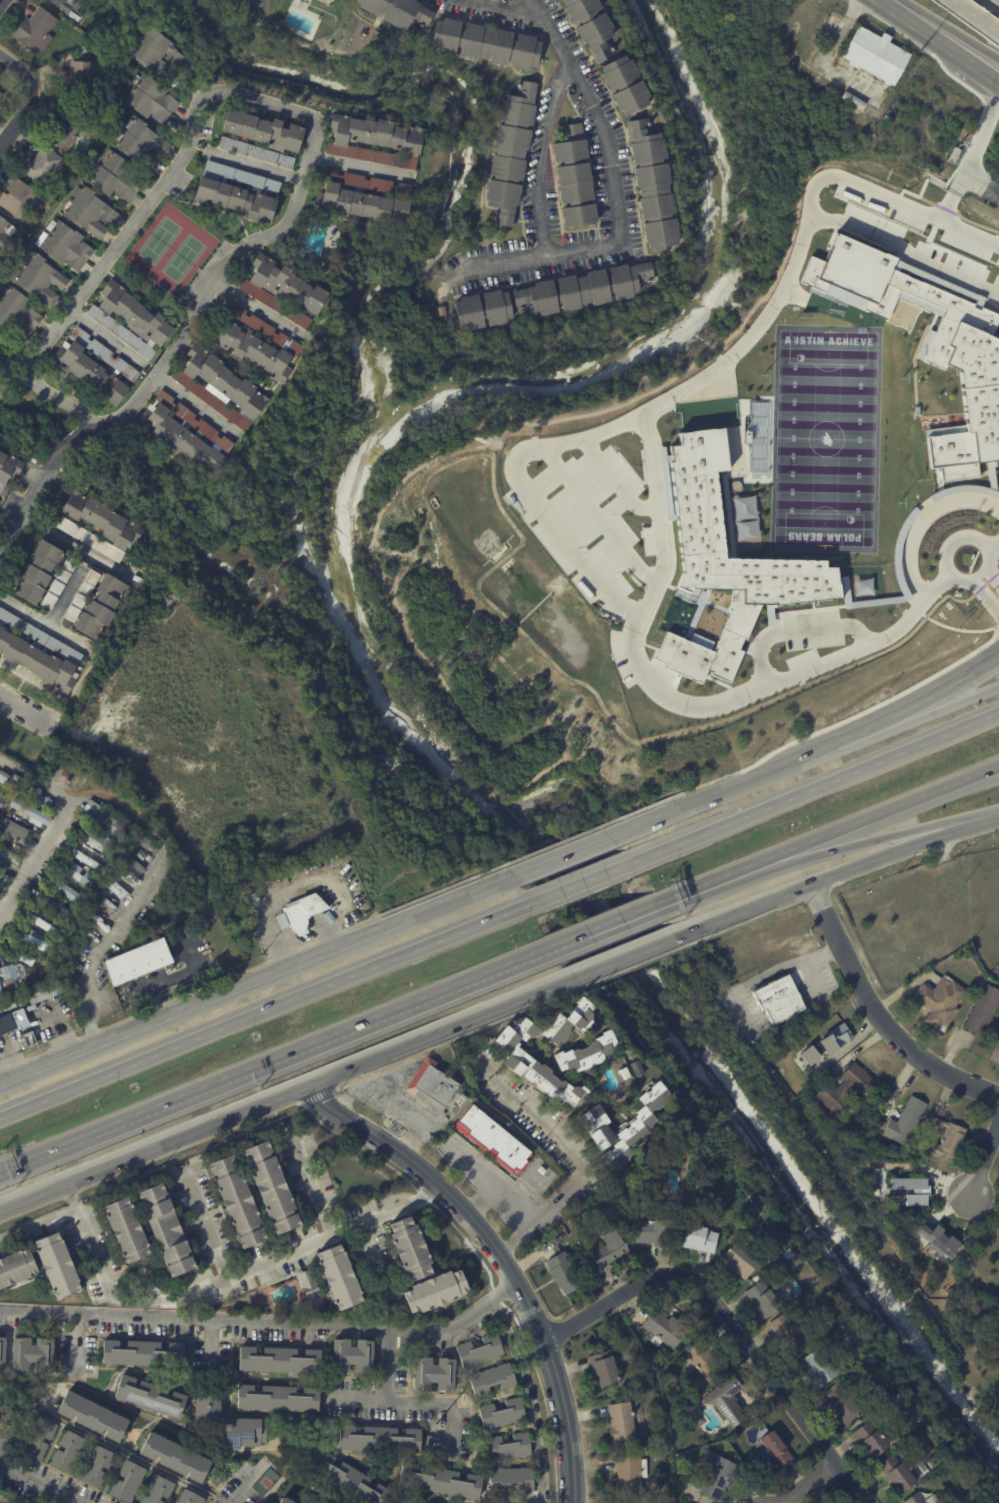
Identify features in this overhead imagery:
road: (2, 3)
road: (504, 5)
building: (71, 7)
building: (395, 12)
road: (973, 18)
building: (589, 27)
road: (919, 29)
road: (951, 29)
building: (36, 30)
building: (484, 45)
road: (830, 50)
building: (152, 51)
building: (875, 56)
road: (980, 71)
road: (19, 74)
building: (81, 81)
building: (622, 86)
building: (833, 88)
building: (0, 91)
building: (0, 95)
building: (150, 99)
building: (853, 100)
road: (272, 103)
building: (873, 112)
road: (15, 121)
building: (68, 128)
building: (263, 132)
building: (374, 143)
building: (140, 144)
road: (200, 147)
building: (255, 153)
building: (509, 153)
road: (973, 154)
building: (954, 155)
road: (544, 158)
building: (41, 165)
road: (257, 165)
road: (360, 165)
building: (115, 179)
building: (573, 179)
building: (651, 186)
building: (238, 192)
road: (615, 195)
building: (17, 198)
building: (366, 199)
building: (89, 212)
road: (970, 229)
building: (4, 234)
park: (160, 240)
building: (63, 245)
road: (906, 249)
park: (183, 258)
road: (107, 263)
building: (40, 281)
building: (282, 290)
building: (552, 297)
road: (263, 309)
building: (17, 313)
building: (129, 320)
road: (179, 341)
road: (116, 342)
building: (259, 346)
building: (8, 350)
building: (2, 366)
building: (96, 368)
building: (219, 386)
road: (198, 404)
building: (917, 410)
building: (185, 435)
building: (759, 437)
park: (826, 438)
road: (520, 457)
building: (8, 468)
road: (599, 515)
road: (920, 523)
building: (97, 527)
road: (660, 528)
road: (79, 546)
road: (992, 548)
road: (954, 549)
road: (988, 557)
building: (724, 563)
road: (991, 568)
building: (43, 576)
road: (978, 576)
road: (995, 580)
road: (957, 584)
road: (66, 596)
road: (983, 596)
building: (94, 604)
road: (45, 621)
road: (797, 631)
building: (38, 652)
building: (494, 664)
road: (25, 713)
road: (905, 723)
road: (814, 756)
road: (34, 781)
building: (8, 782)
road: (817, 787)
building: (30, 791)
building: (0, 795)
building: (44, 803)
building: (2, 804)
building: (90, 807)
building: (31, 812)
building: (7, 814)
road: (993, 817)
road: (872, 818)
building: (112, 827)
building: (11, 830)
building: (130, 831)
building: (97, 842)
road: (865, 843)
building: (142, 854)
building: (8, 856)
road: (36, 856)
road: (565, 857)
building: (89, 860)
building: (75, 873)
road: (836, 875)
building: (2, 877)
road: (297, 884)
road: (581, 885)
road: (707, 886)
building: (63, 887)
road: (136, 893)
building: (55, 908)
building: (303, 912)
building: (318, 921)
building: (41, 924)
road: (609, 924)
building: (35, 940)
building: (18, 954)
road: (630, 958)
building: (136, 962)
building: (14, 978)
road: (255, 981)
building: (1, 992)
building: (41, 992)
building: (779, 999)
building: (941, 1002)
road: (263, 1013)
road: (878, 1016)
building: (13, 1021)
building: (983, 1021)
building: (569, 1023)
building: (837, 1039)
building: (26, 1041)
building: (589, 1054)
building: (810, 1055)
building: (996, 1055)
road: (274, 1057)
building: (535, 1064)
building: (636, 1069)
building: (625, 1074)
building: (480, 1078)
building: (434, 1084)
building: (845, 1088)
building: (527, 1093)
road: (285, 1096)
building: (460, 1100)
road: (395, 1101)
building: (518, 1118)
building: (905, 1121)
building: (599, 1127)
building: (639, 1127)
building: (947, 1138)
building: (494, 1141)
building: (583, 1147)
building: (558, 1156)
road: (985, 1159)
building: (532, 1169)
building: (541, 1171)
road: (582, 1175)
road: (310, 1179)
building: (906, 1182)
building: (547, 1183)
building: (271, 1186)
building: (698, 1187)
building: (689, 1197)
building: (915, 1198)
building: (238, 1201)
road: (205, 1219)
road: (39, 1225)
building: (125, 1230)
building: (165, 1230)
building: (654, 1230)
building: (699, 1238)
building: (936, 1240)
building: (409, 1246)
building: (608, 1248)
road: (501, 1258)
building: (737, 1260)
building: (56, 1266)
building: (15, 1268)
building: (563, 1272)
road: (226, 1277)
building: (338, 1277)
building: (309, 1289)
building: (435, 1291)
building: (763, 1299)
road: (729, 1322)
road: (265, 1324)
building: (665, 1328)
building: (792, 1332)
building: (481, 1350)
building: (2, 1351)
building: (142, 1353)
building: (32, 1354)
building: (352, 1355)
building: (277, 1360)
building: (705, 1361)
road: (388, 1364)
building: (816, 1368)
building: (603, 1369)
building: (434, 1374)
building: (858, 1377)
building: (492, 1379)
building: (152, 1394)
building: (743, 1394)
building: (278, 1398)
building: (726, 1400)
building: (207, 1401)
road: (416, 1401)
building: (699, 1403)
building: (843, 1403)
building: (503, 1413)
building: (93, 1419)
building: (621, 1422)
building: (244, 1433)
building: (37, 1436)
building: (871, 1436)
building: (735, 1437)
building: (380, 1439)
building: (429, 1442)
road: (4, 1445)
building: (508, 1447)
building: (776, 1449)
building: (68, 1451)
building: (176, 1459)
building: (95, 1466)
building: (933, 1467)
building: (897, 1471)
building: (716, 1474)
building: (630, 1475)
building: (350, 1478)
building: (512, 1479)
building: (127, 1481)
building: (439, 1482)
road: (809, 1482)
road: (37, 1484)
road: (241, 1489)
building: (156, 1490)
building: (189, 1497)
building: (657, 1498)
building: (916, 1499)
building: (289, 1500)
building: (495, 1502)
building: (527, 1502)

